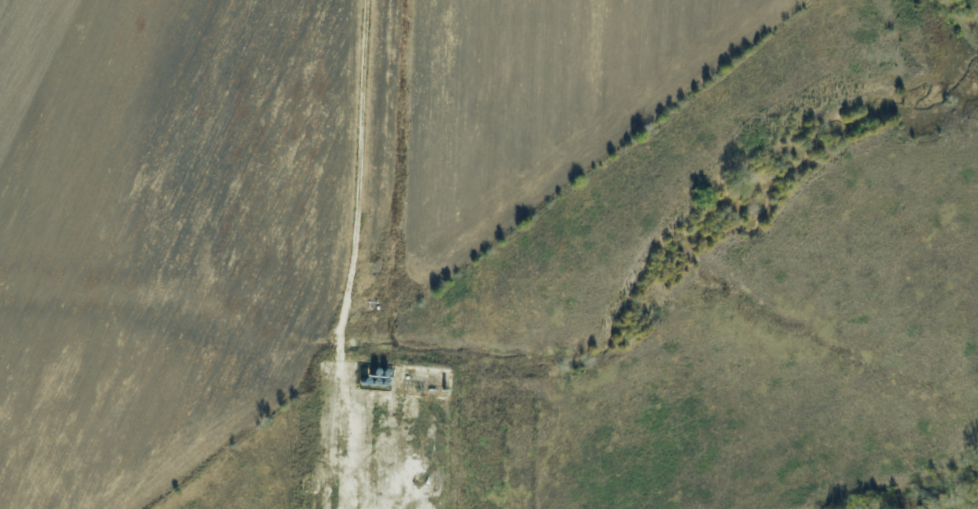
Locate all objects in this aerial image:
road: (373, 282)

